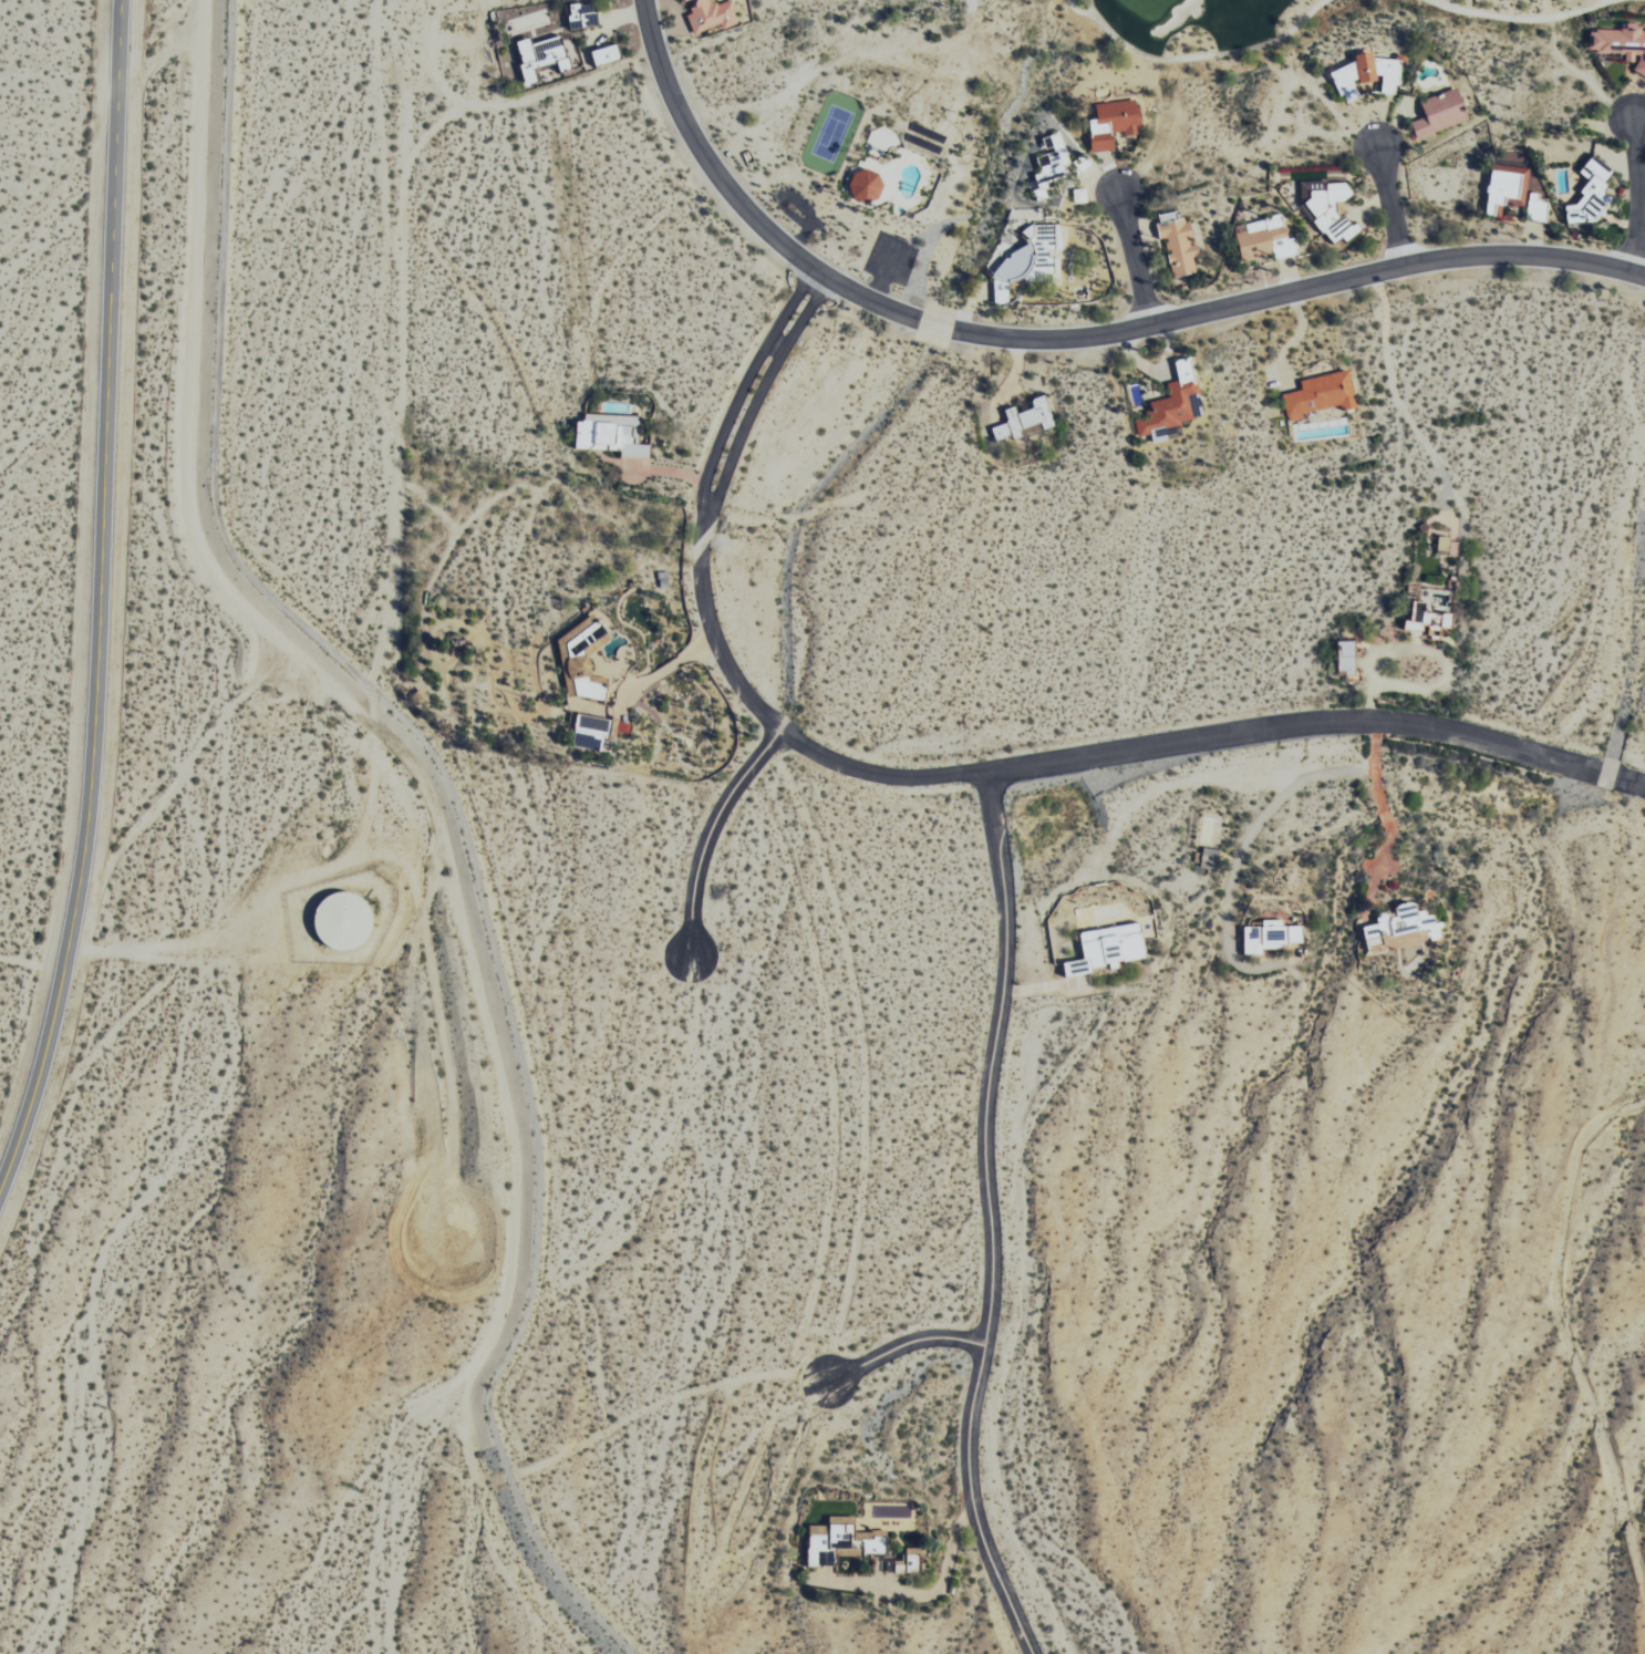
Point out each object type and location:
park: (1141, 8)
building: (705, 13)
building: (579, 15)
park: (1284, 22)
building: (1620, 41)
building: (602, 54)
building: (538, 56)
building: (1363, 69)
building: (1437, 108)
building: (1107, 121)
building: (1049, 156)
building: (1080, 163)
building: (1501, 185)
building: (865, 186)
building: (1587, 188)
road: (1637, 197)
building: (1331, 207)
road: (1390, 207)
building: (1534, 208)
building: (1261, 238)
building: (1176, 245)
building: (1024, 259)
road: (1137, 259)
road: (1065, 335)
building: (1318, 395)
building: (1169, 404)
building: (1021, 420)
building: (609, 434)
building: (1446, 547)
road: (100, 599)
building: (1426, 606)
building: (1343, 654)
road: (1635, 659)
road: (956, 772)
road: (710, 833)
building: (1396, 926)
building: (1269, 933)
building: (1104, 945)
road: (1057, 985)
road: (987, 1218)
road: (904, 1344)

